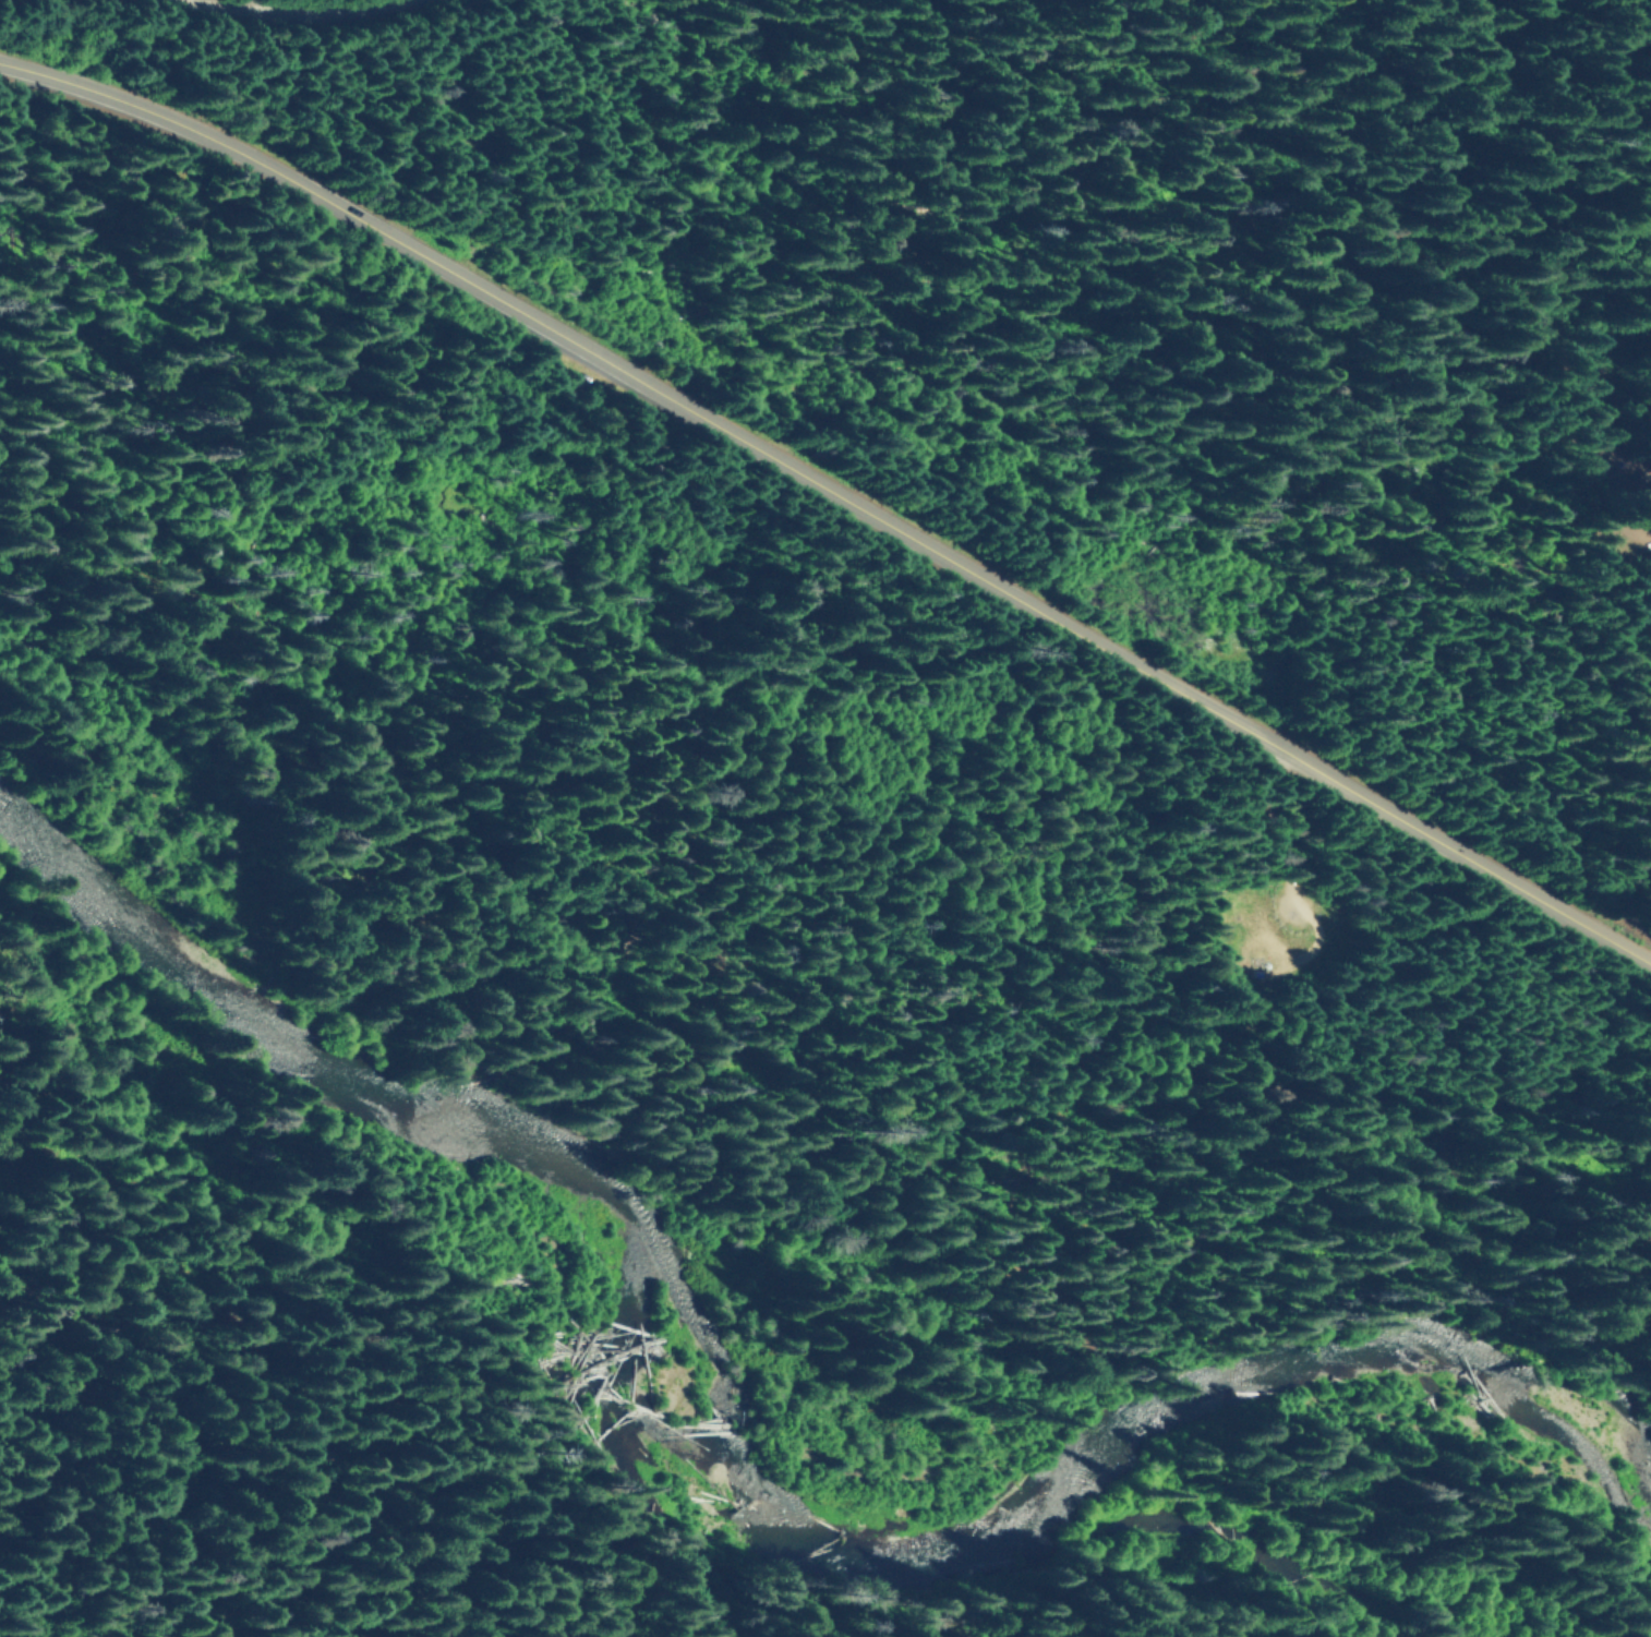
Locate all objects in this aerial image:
road: (269, 13)
road: (834, 486)
river: (735, 1429)

